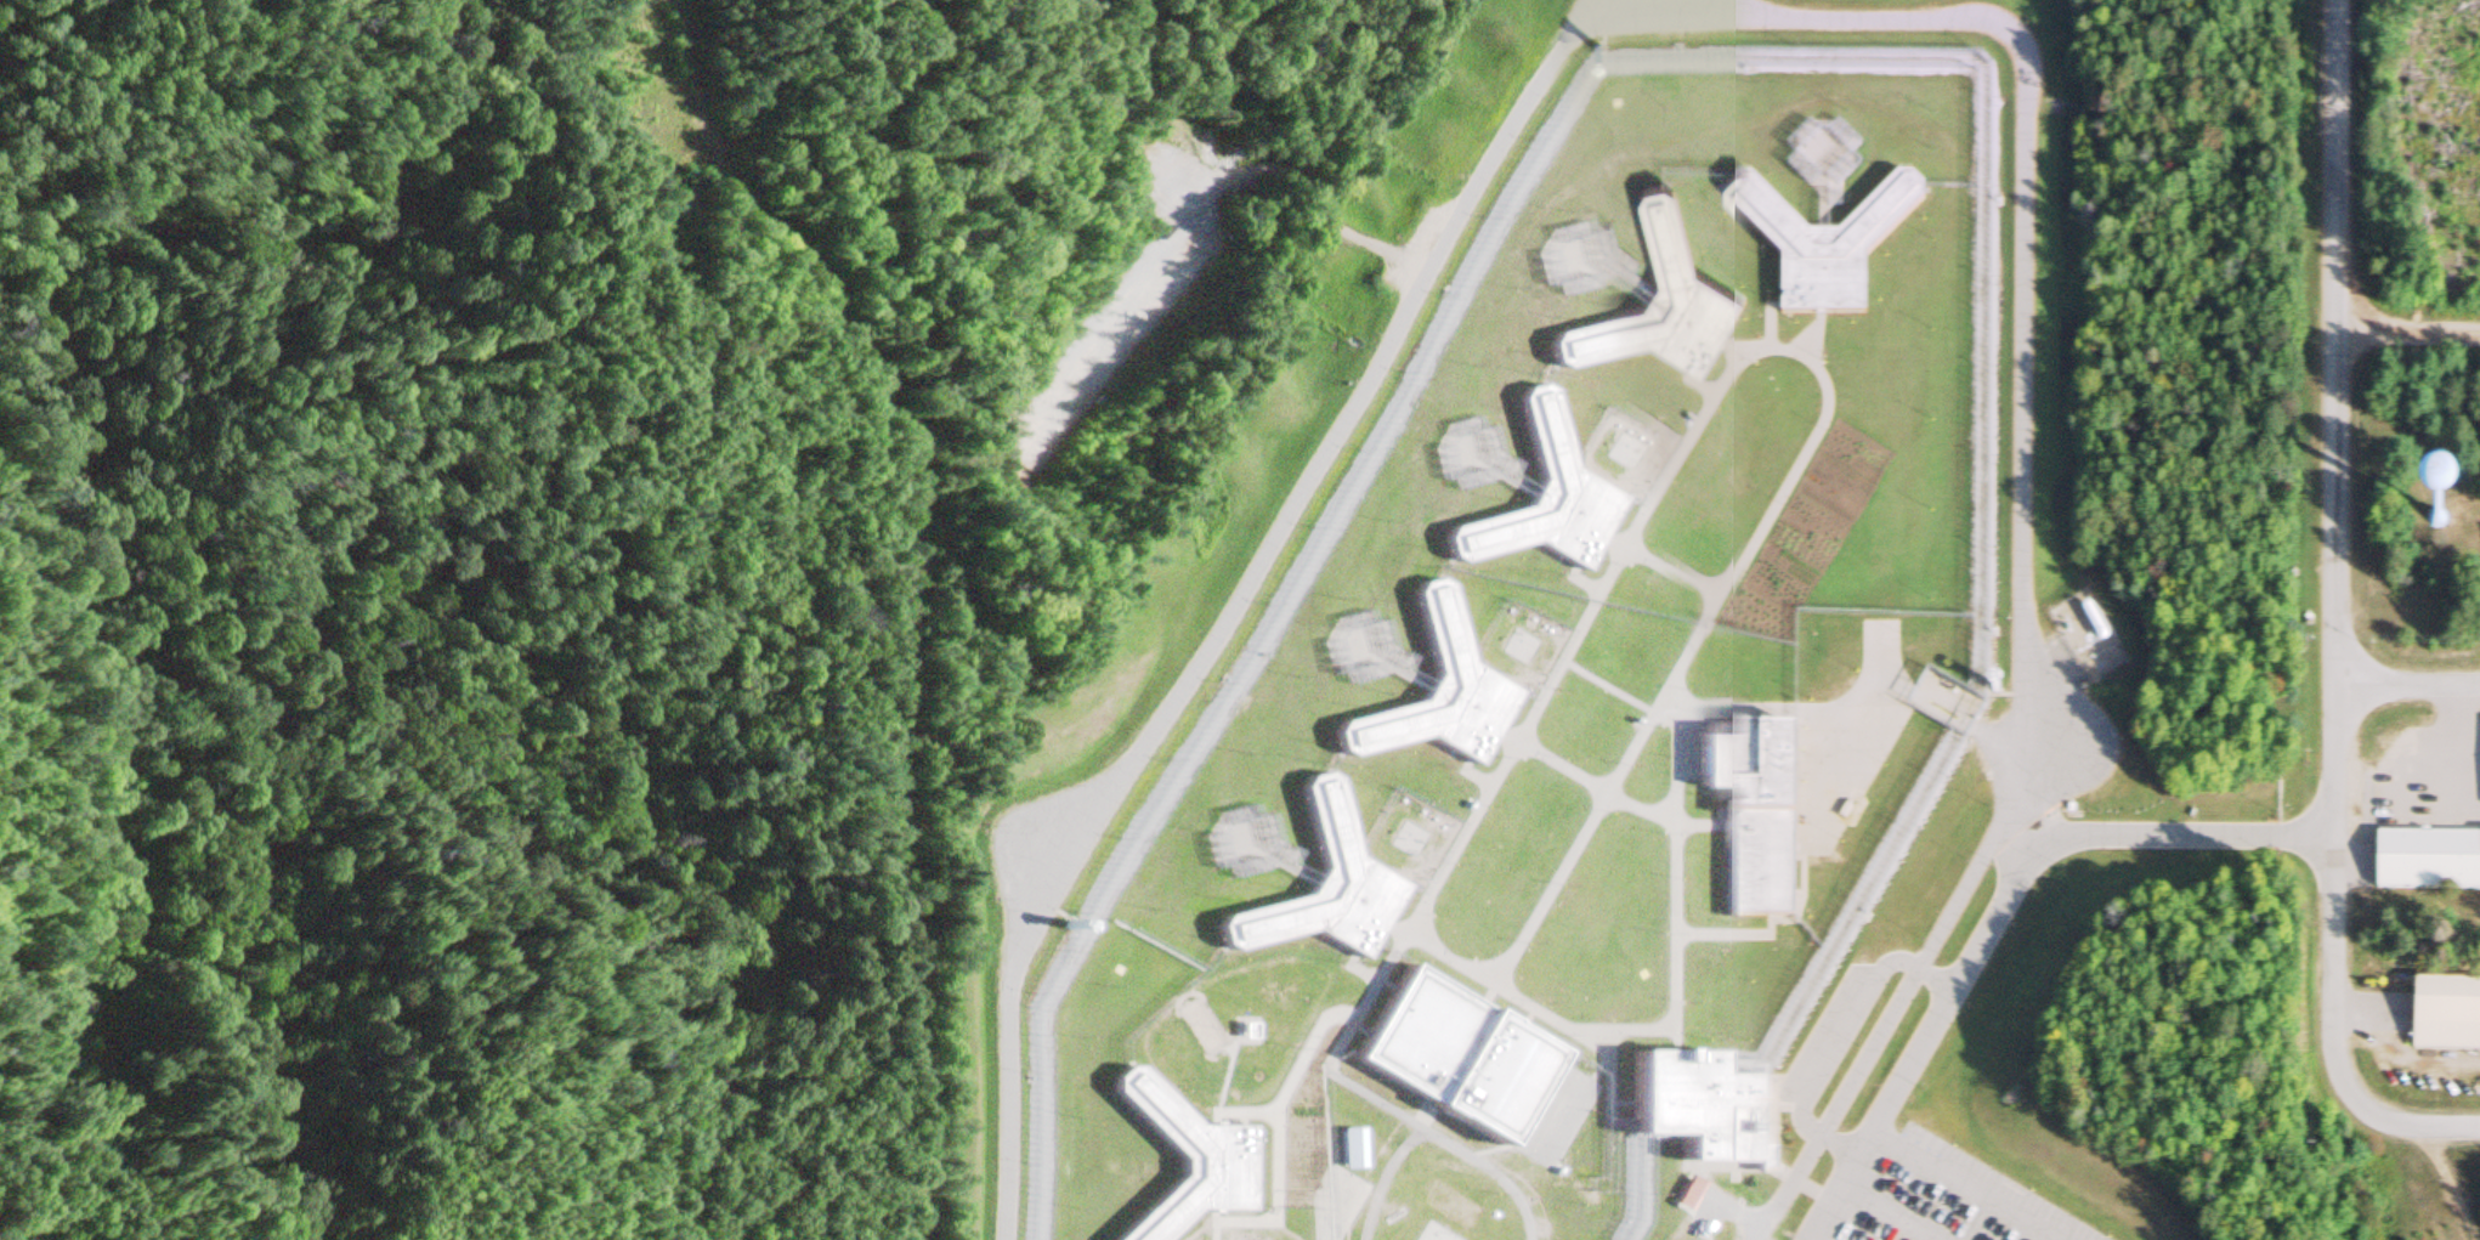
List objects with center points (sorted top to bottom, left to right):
road: (1518, 96)
building: (1814, 244)
building: (1863, 284)
building: (1653, 300)
building: (1540, 500)
water tower: (2430, 517)
road: (936, 554)
road: (2343, 560)
road: (2412, 683)
building: (1427, 691)
building: (1761, 811)
road: (2037, 811)
building: (2428, 862)
building: (1329, 885)
road: (1993, 915)
road: (1893, 1008)
building: (2446, 1018)
building: (1251, 1029)
parking lot: (1822, 1032)
road: (1839, 1036)
building: (1457, 1054)
building: (1704, 1110)
road: (2418, 1127)
building: (1354, 1148)
building: (1182, 1154)
road: (2451, 1183)
building: (1688, 1189)
parking lot: (1953, 1199)

